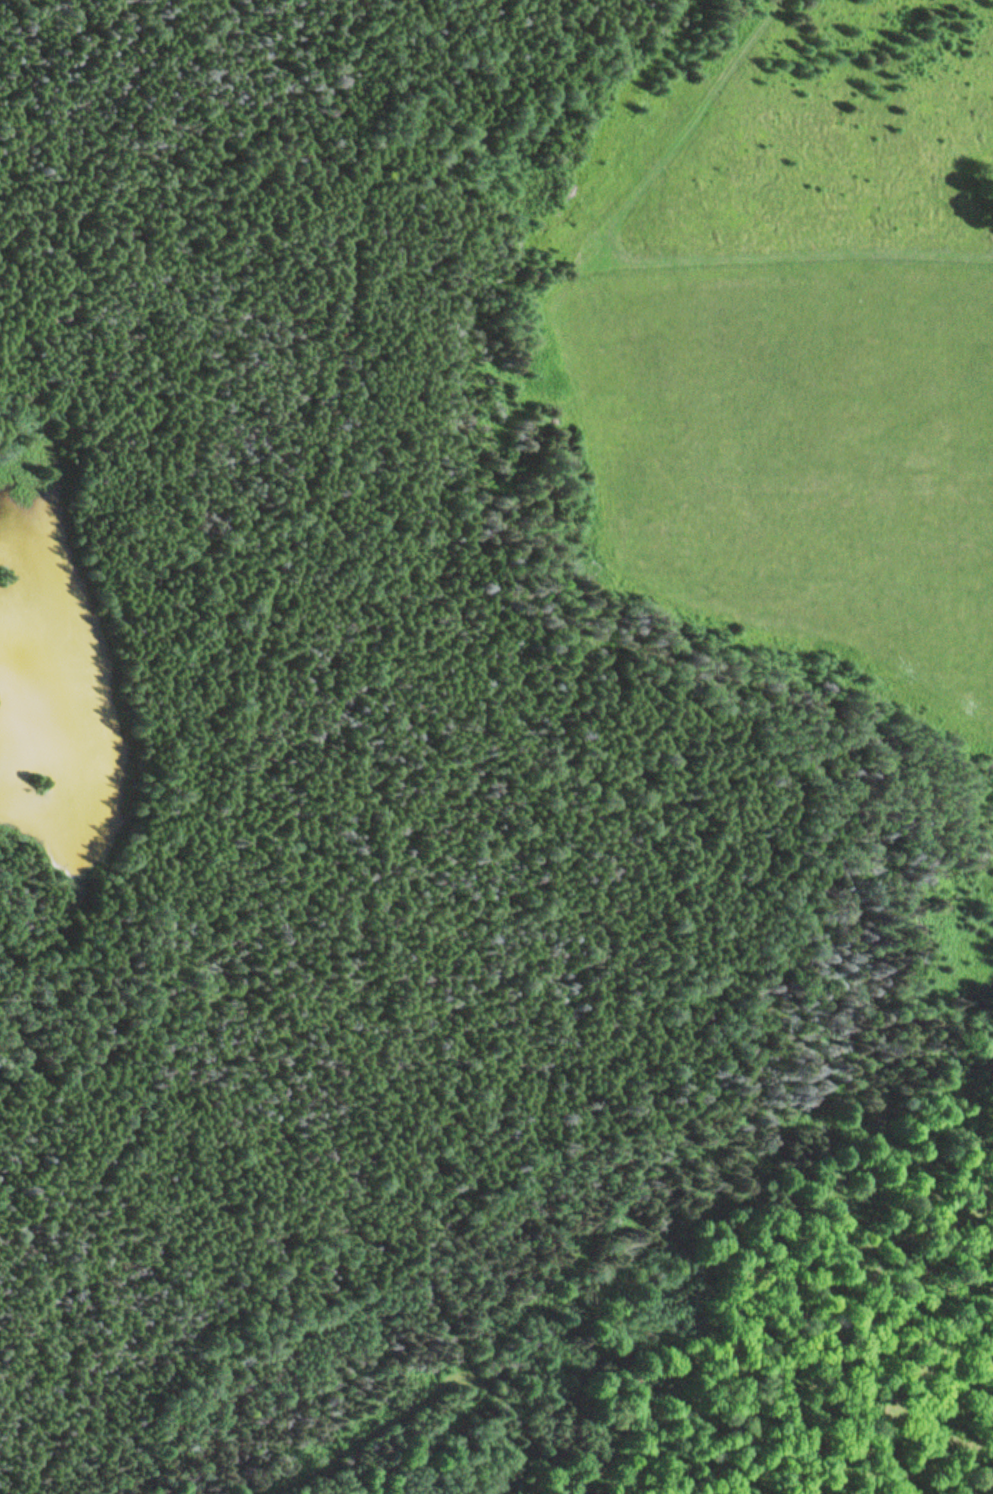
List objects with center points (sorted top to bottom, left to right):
road: (900, 264)

